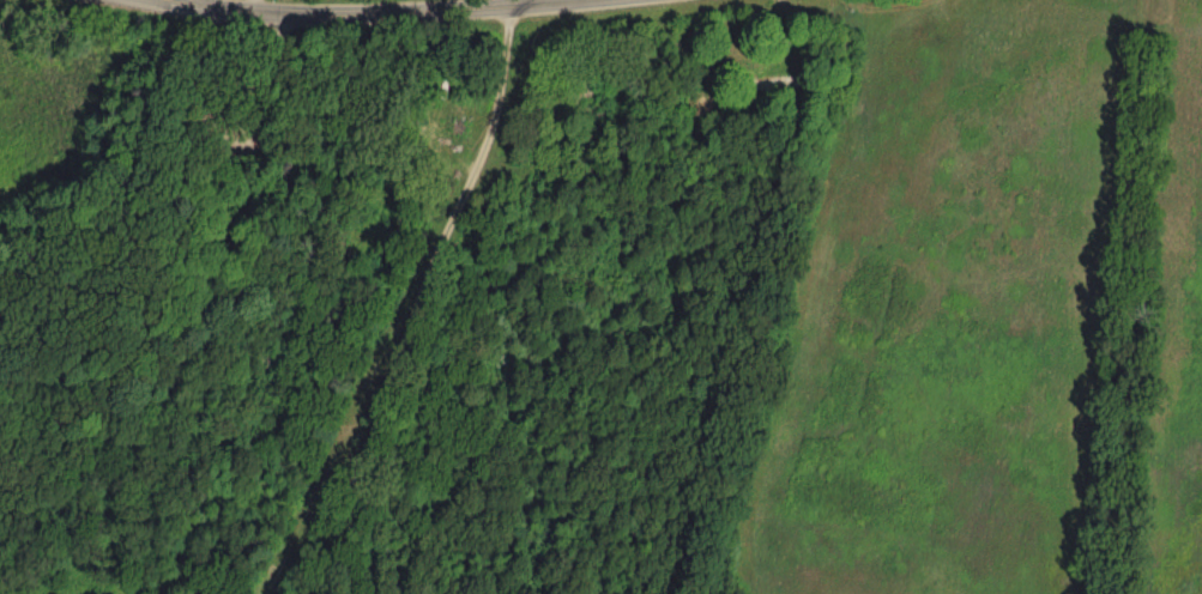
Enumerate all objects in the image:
road: (367, 18)
building: (763, 86)
building: (447, 138)
road: (439, 297)

